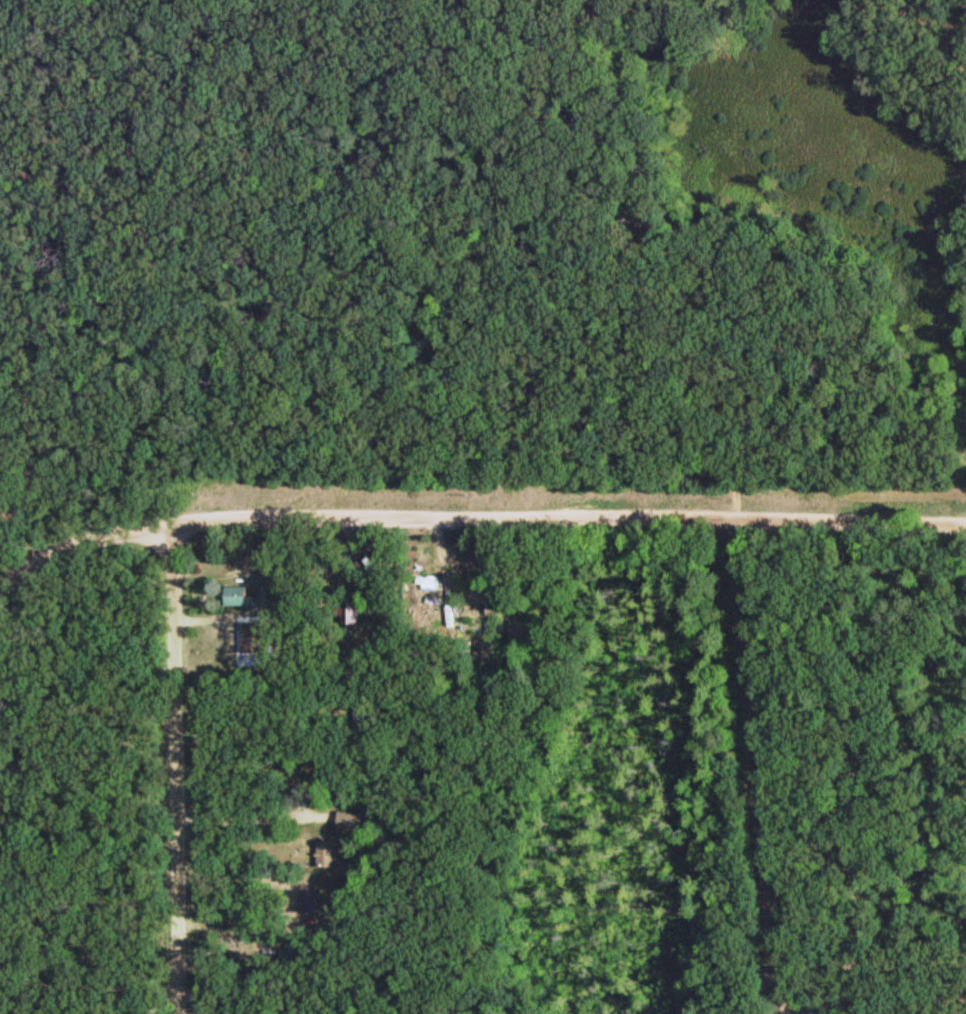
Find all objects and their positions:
road: (476, 515)
building: (243, 594)
building: (369, 715)
road: (838, 762)
road: (177, 766)
building: (331, 1012)

